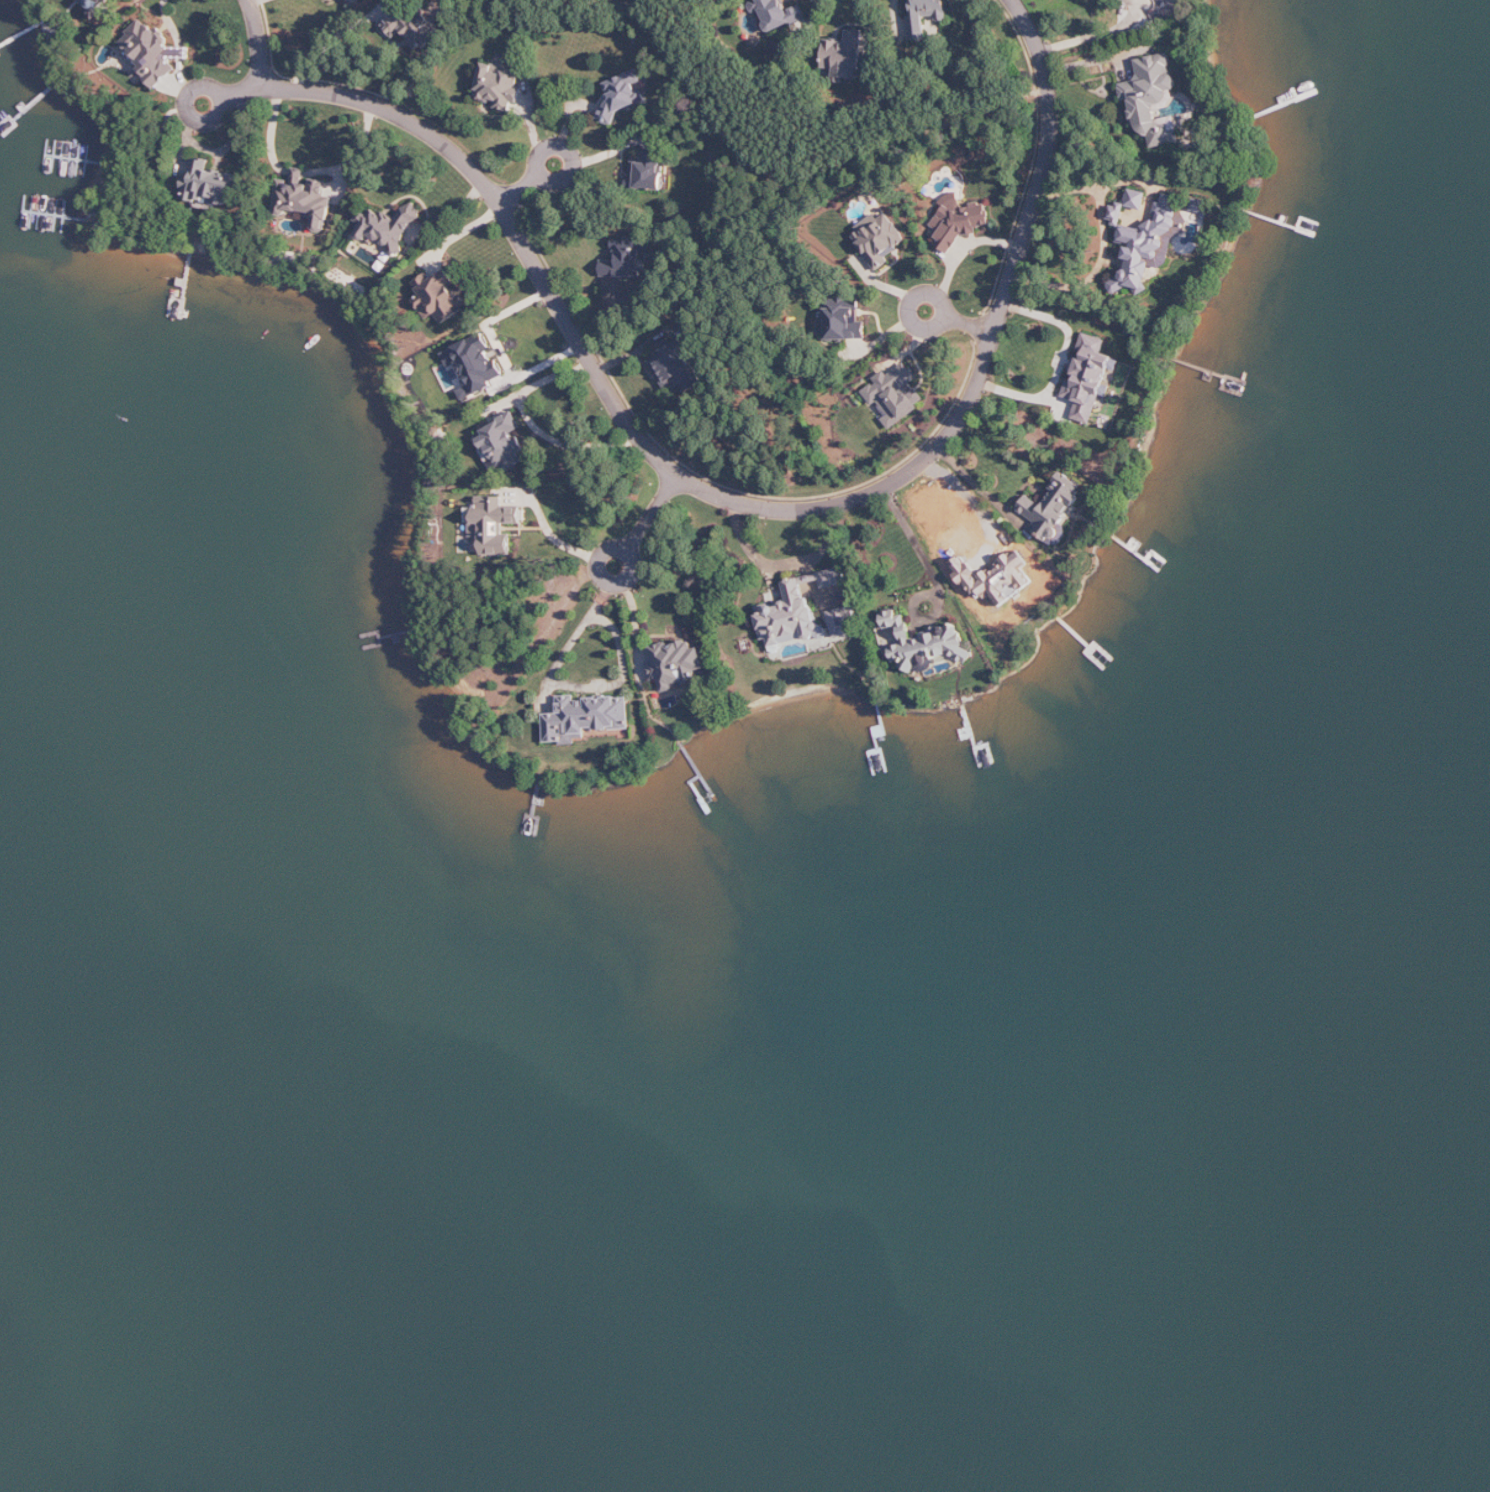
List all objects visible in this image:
building: (124, 0)
building: (354, 1)
building: (105, 2)
building: (925, 16)
building: (413, 28)
road: (1095, 34)
road: (258, 43)
road: (327, 45)
building: (152, 52)
building: (845, 56)
road: (1092, 60)
building: (499, 86)
road: (242, 91)
building: (622, 94)
road: (223, 96)
building: (1152, 99)
road: (271, 133)
road: (568, 151)
road: (356, 156)
road: (816, 157)
building: (651, 170)
road: (298, 172)
road: (1093, 185)
building: (210, 187)
road: (518, 189)
building: (305, 199)
building: (1127, 205)
building: (959, 223)
building: (391, 227)
building: (880, 241)
building: (1149, 246)
road: (967, 247)
building: (627, 258)
road: (701, 269)
road: (1096, 272)
building: (439, 297)
road: (911, 304)
building: (845, 321)
road: (970, 324)
building: (475, 363)
building: (678, 365)
building: (1090, 378)
building: (896, 394)
building: (502, 444)
road: (976, 481)
road: (750, 505)
building: (1053, 508)
road: (653, 512)
building: (492, 524)
road: (550, 531)
road: (920, 543)
road: (626, 550)
road: (785, 563)
building: (997, 579)
building: (796, 610)
building: (844, 621)
road: (638, 627)
building: (919, 643)
building: (677, 664)
road: (569, 685)
building: (585, 718)

